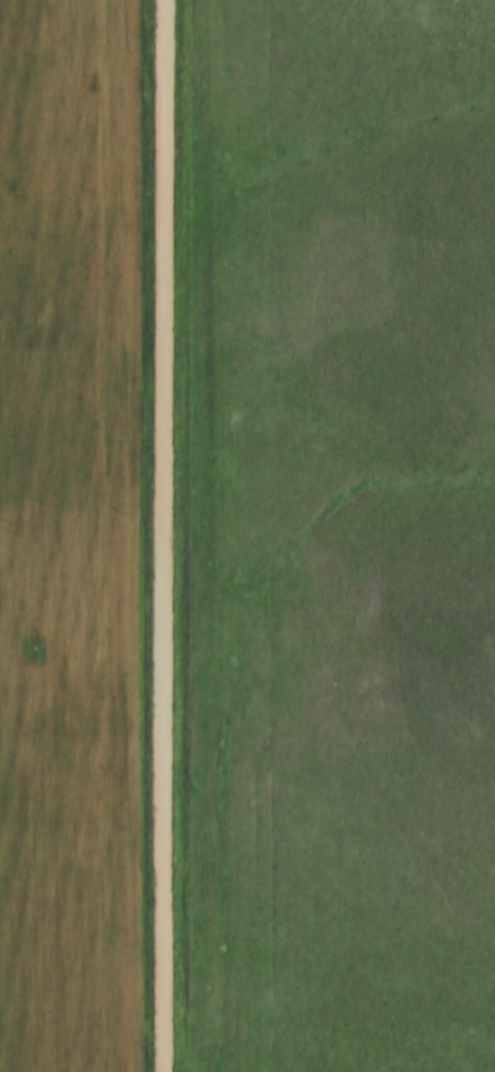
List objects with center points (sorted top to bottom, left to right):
road: (160, 535)

